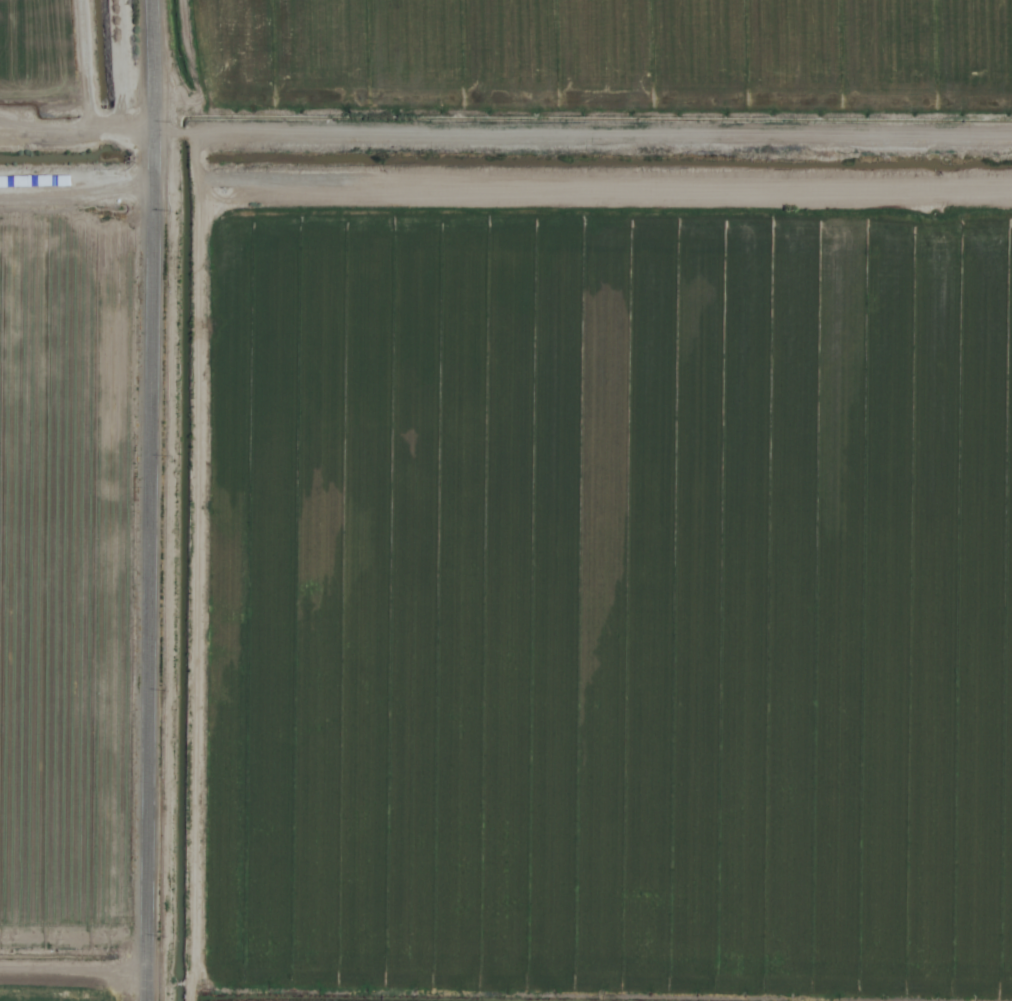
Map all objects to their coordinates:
road: (155, 500)

